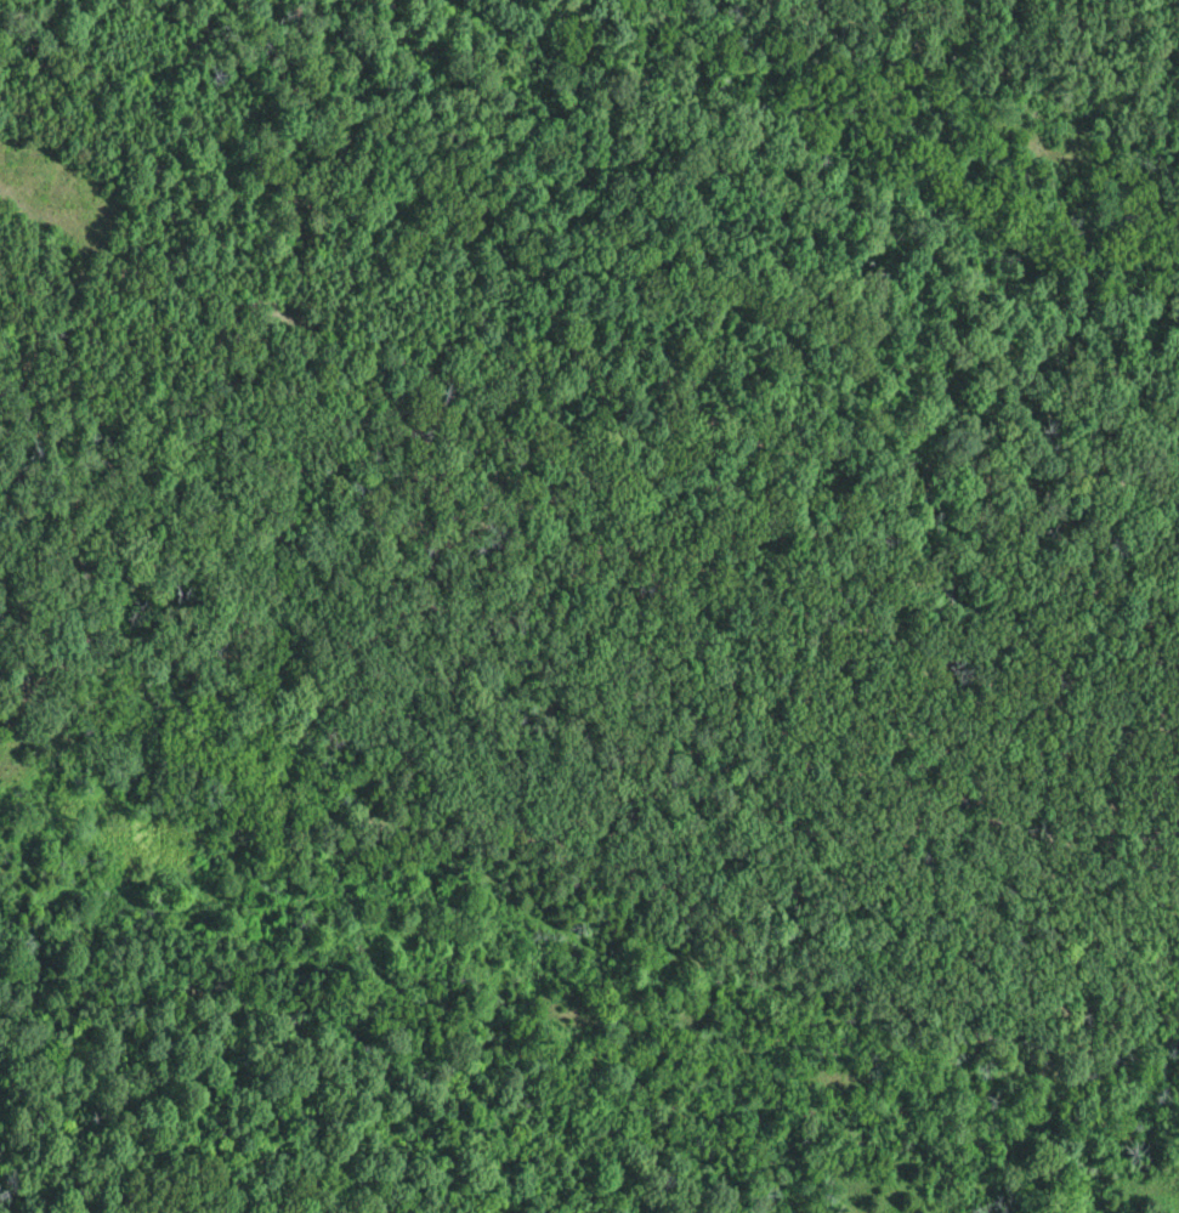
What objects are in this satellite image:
road: (176, 511)

